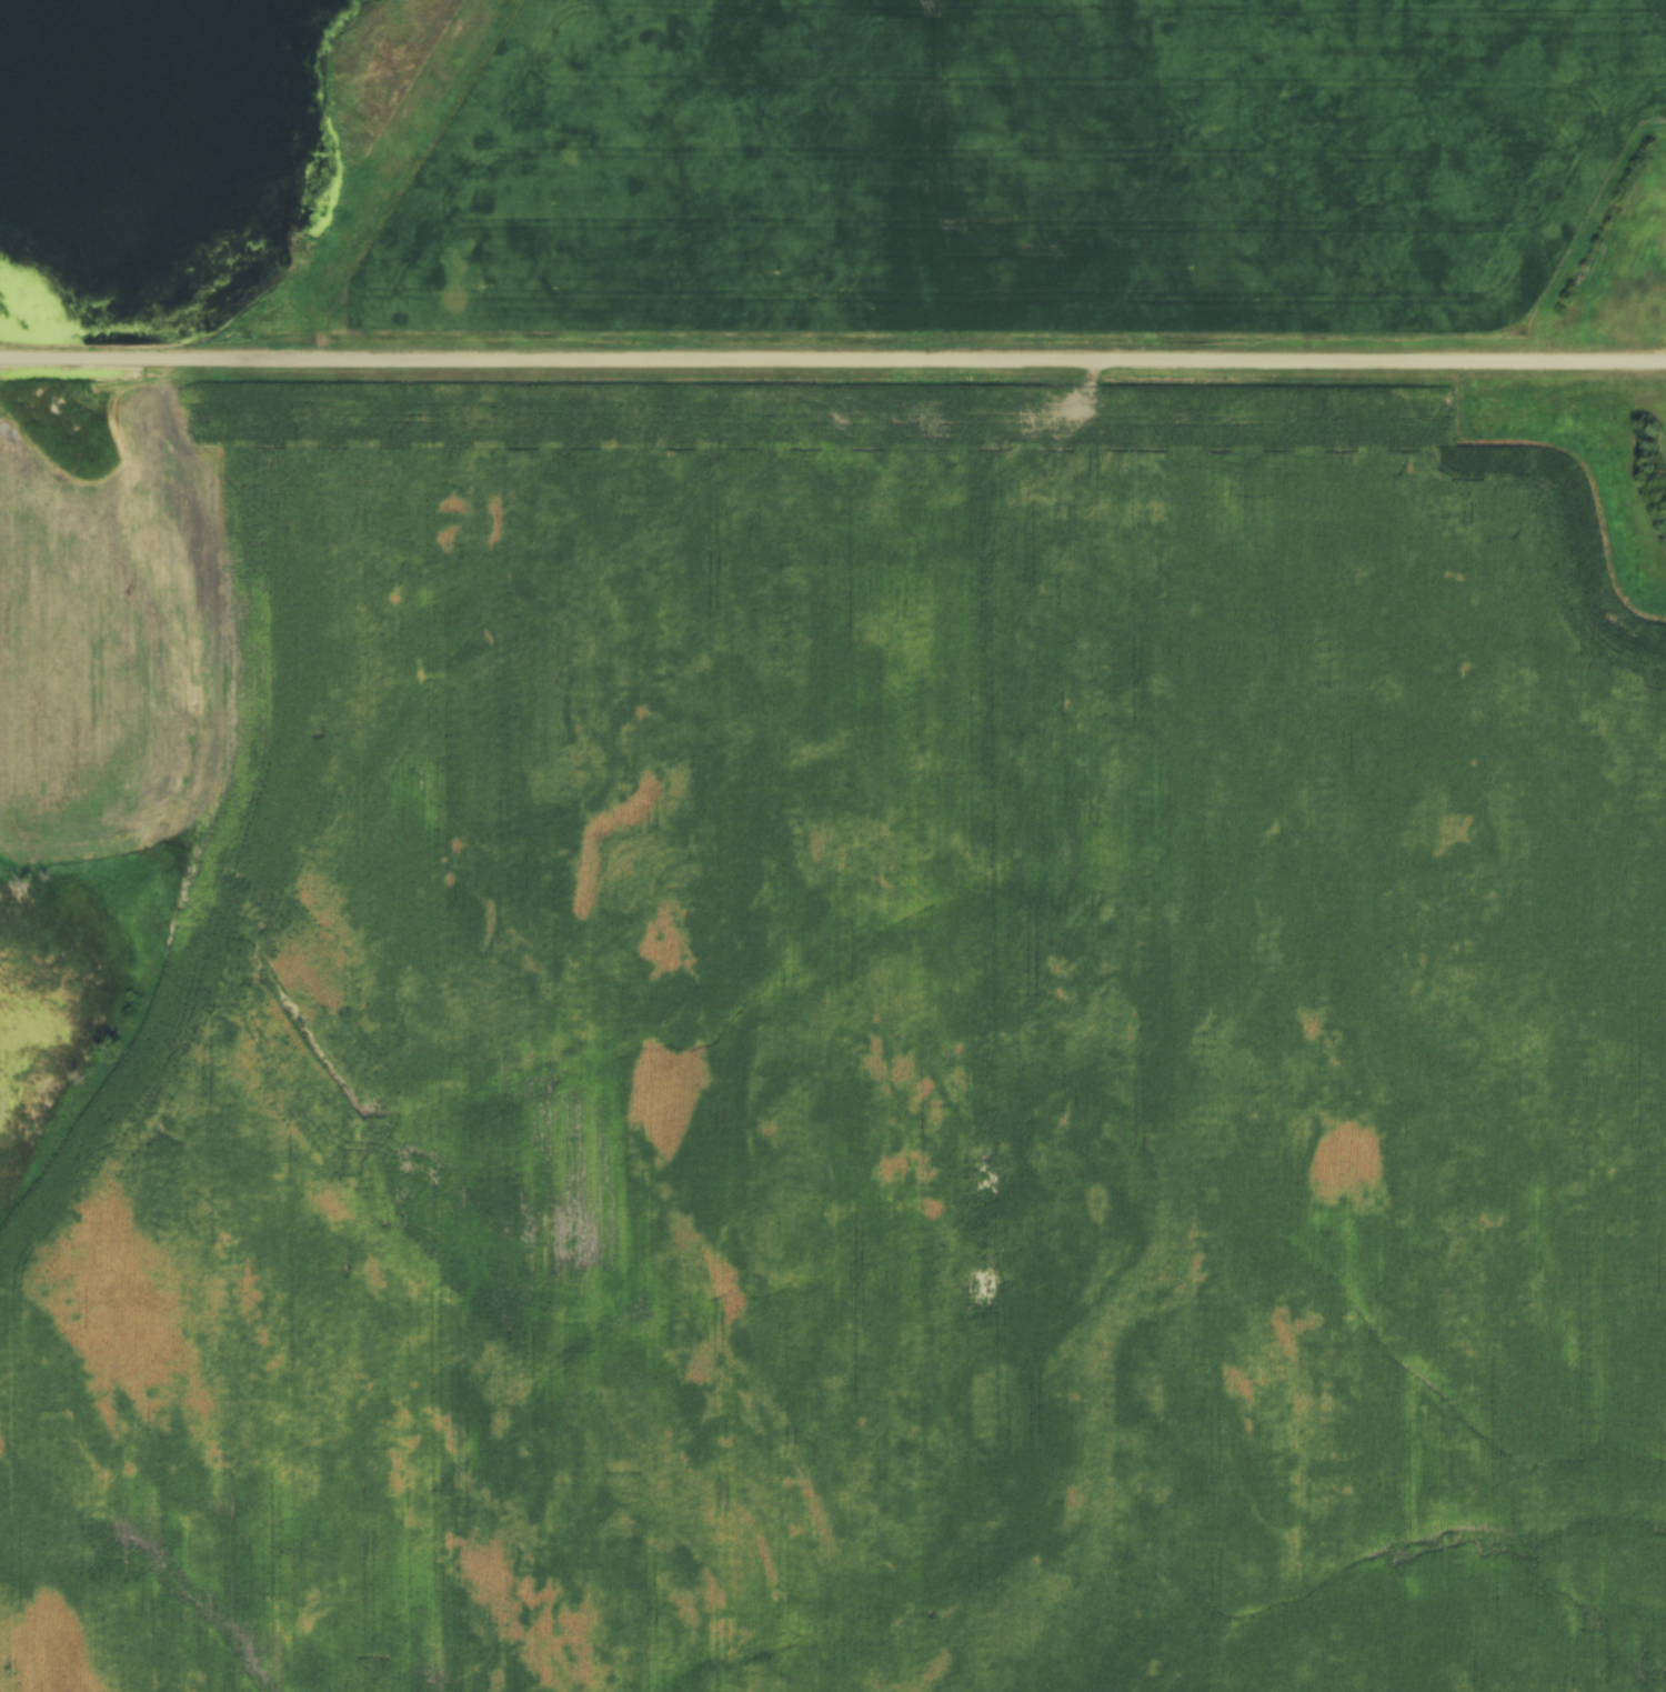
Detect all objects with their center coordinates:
road: (833, 362)

